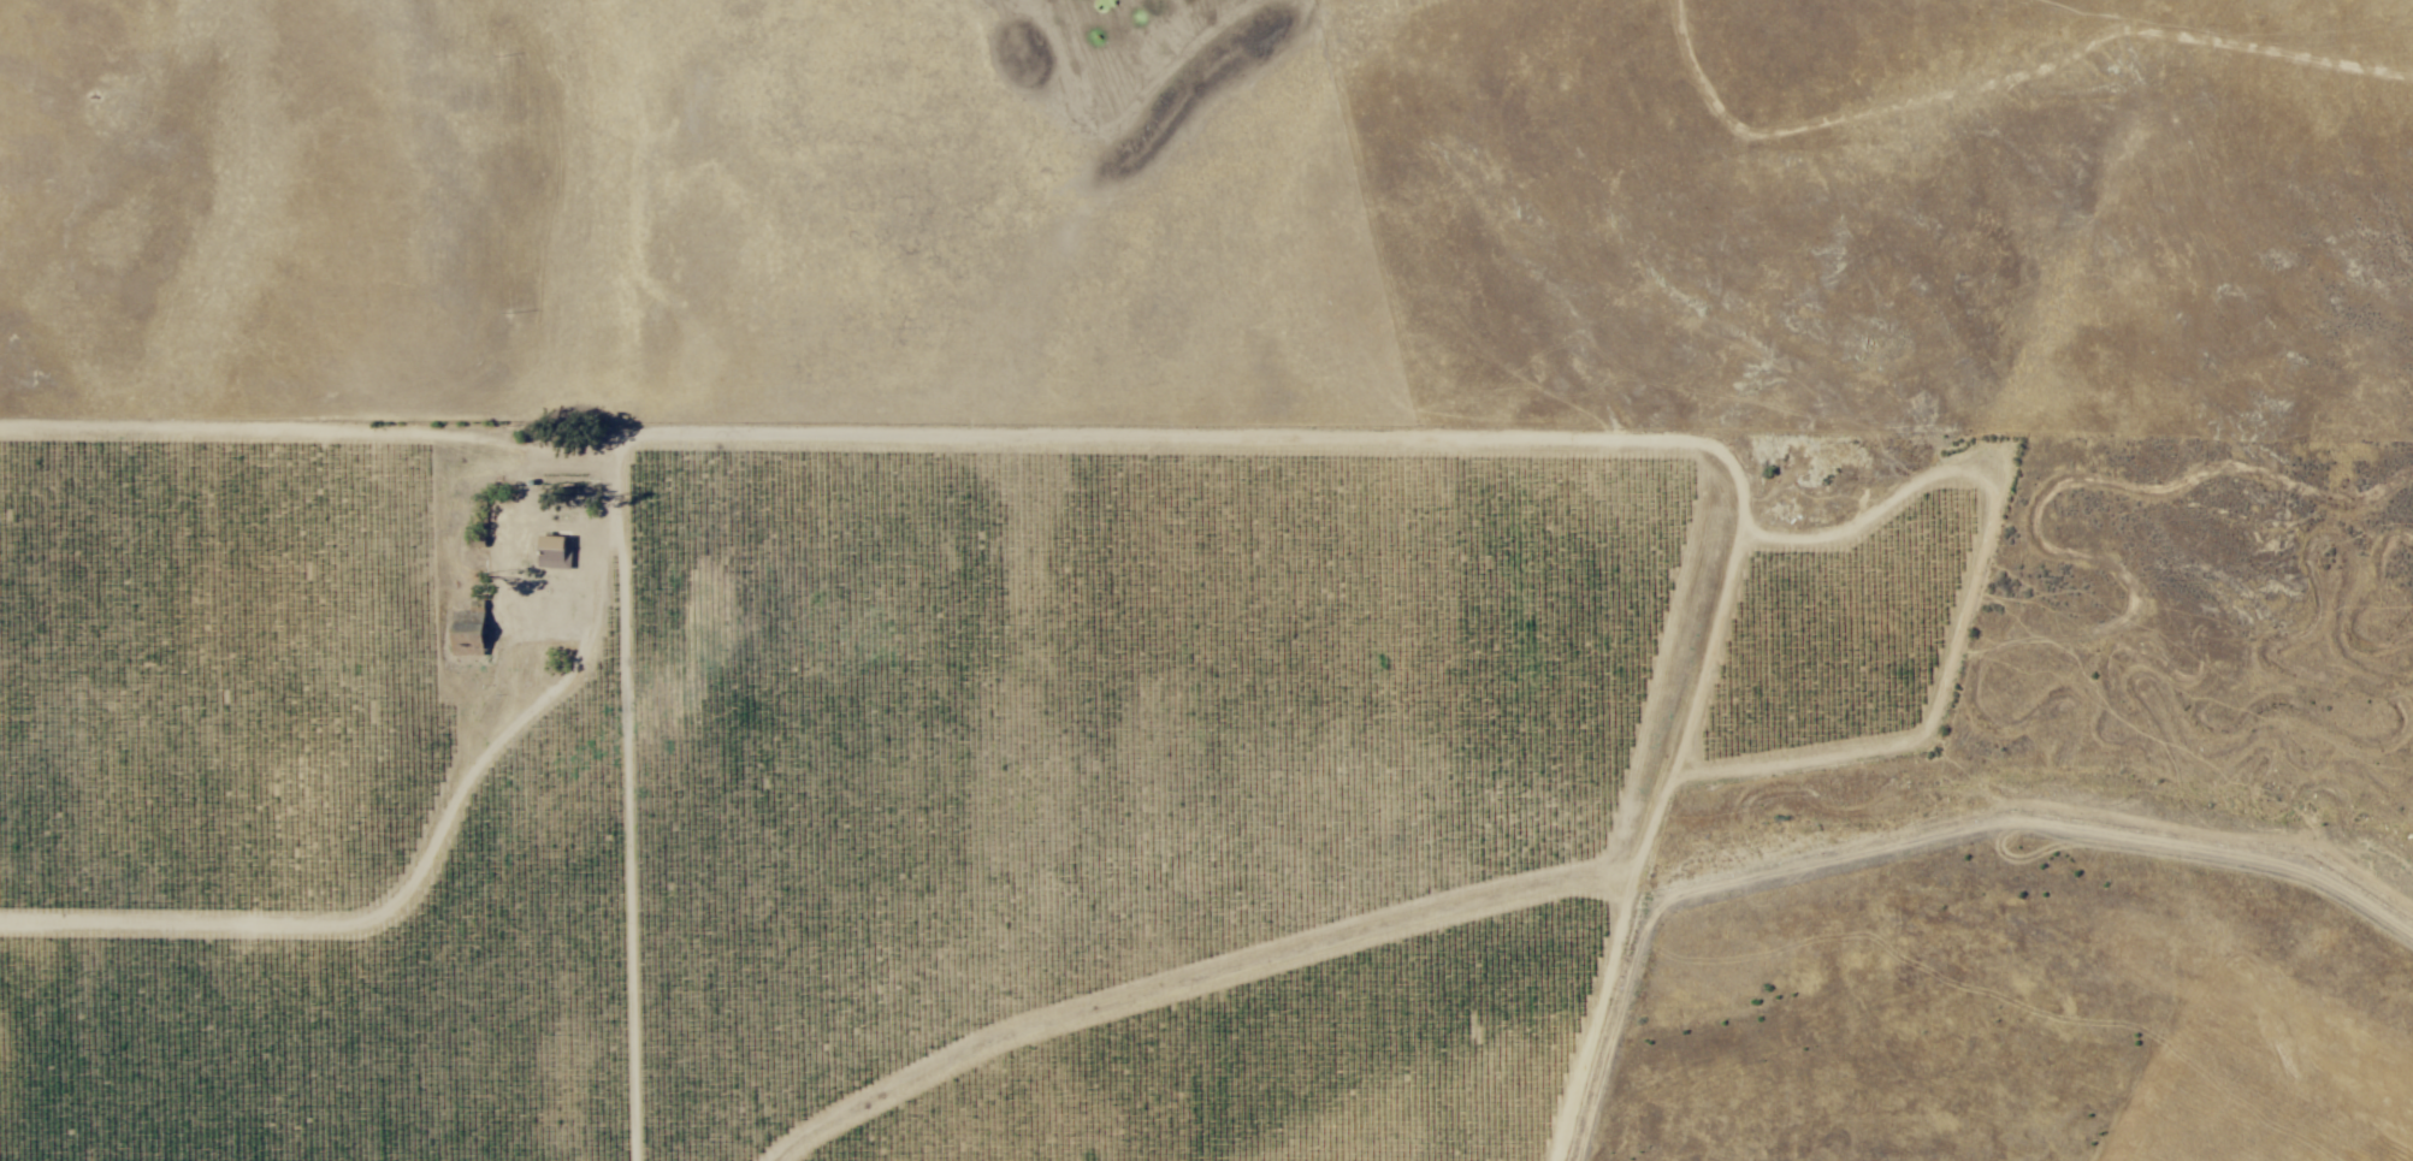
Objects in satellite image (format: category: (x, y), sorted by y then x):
road: (895, 213)
building: (558, 552)
building: (473, 627)
crop: (892, 768)
road: (1258, 969)

